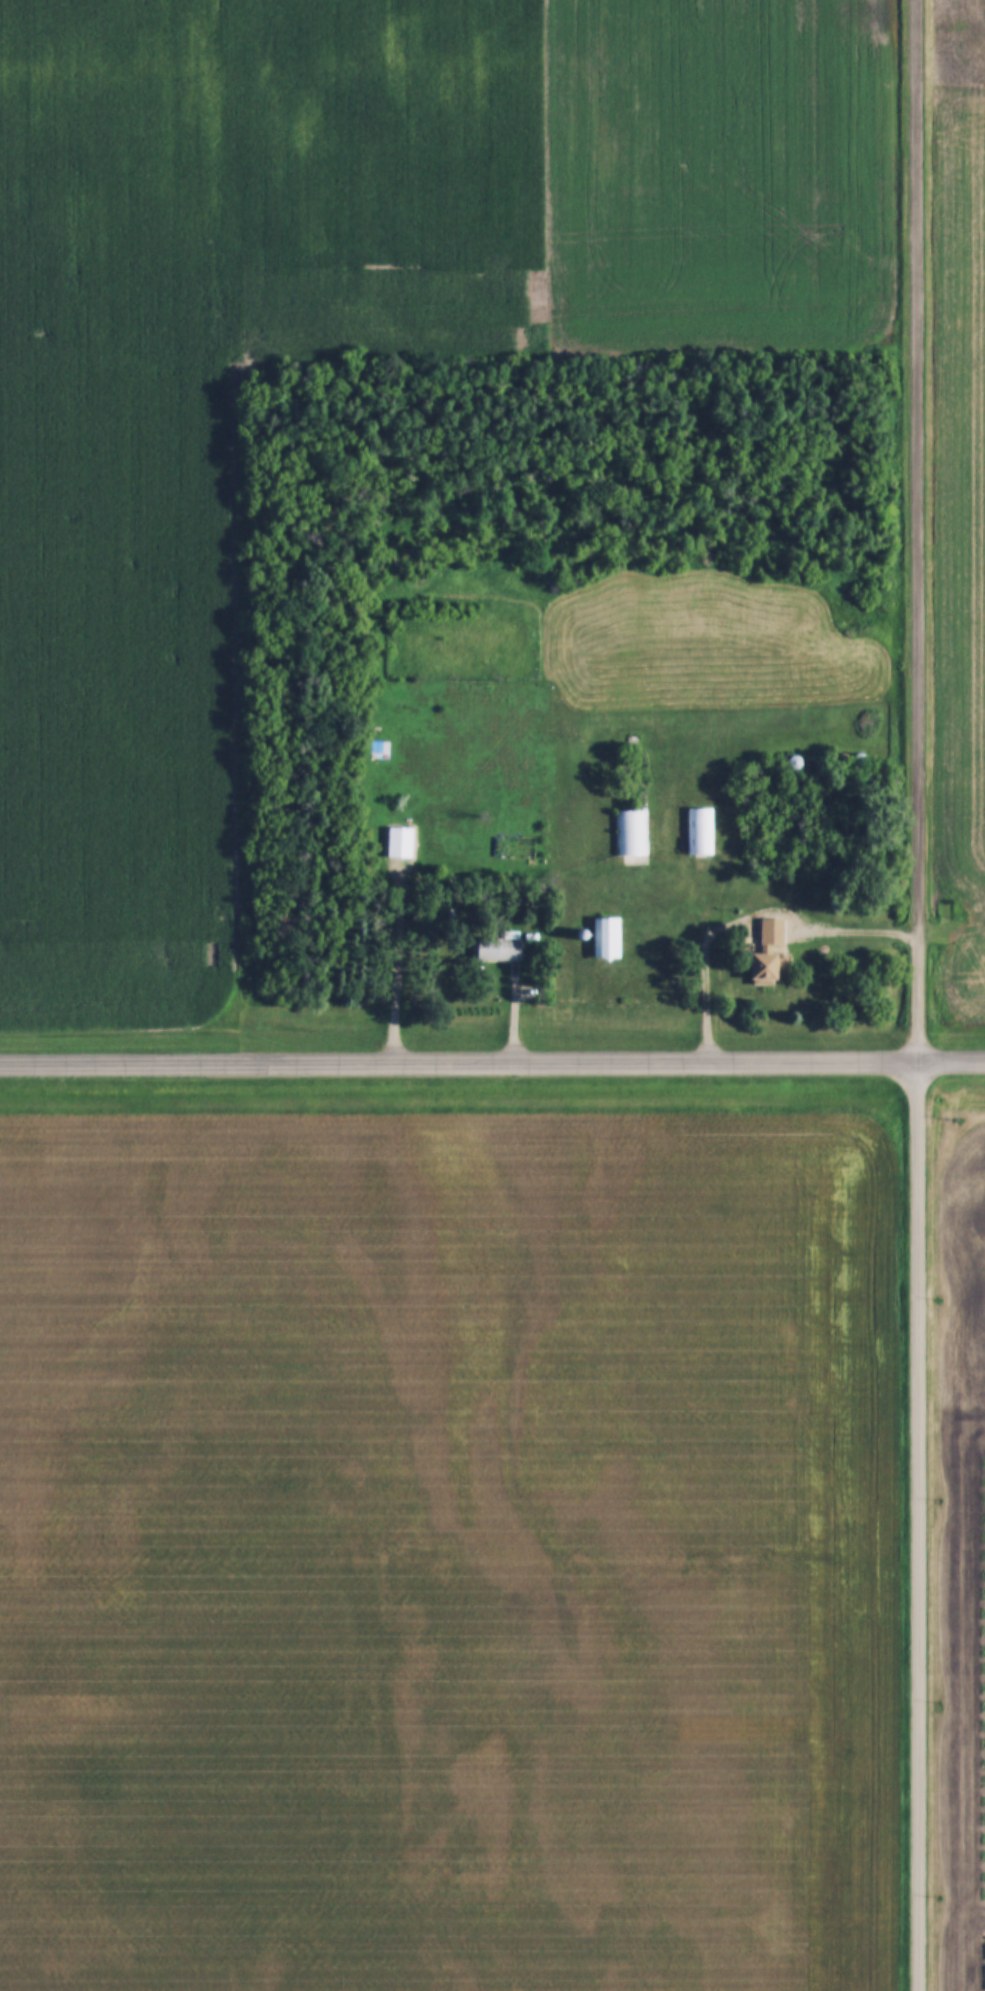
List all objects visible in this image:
road: (923, 471)
building: (698, 832)
building: (399, 843)
road: (751, 926)
building: (604, 939)
building: (496, 949)
building: (766, 969)
road: (920, 1002)
road: (492, 1065)
road: (924, 1526)

